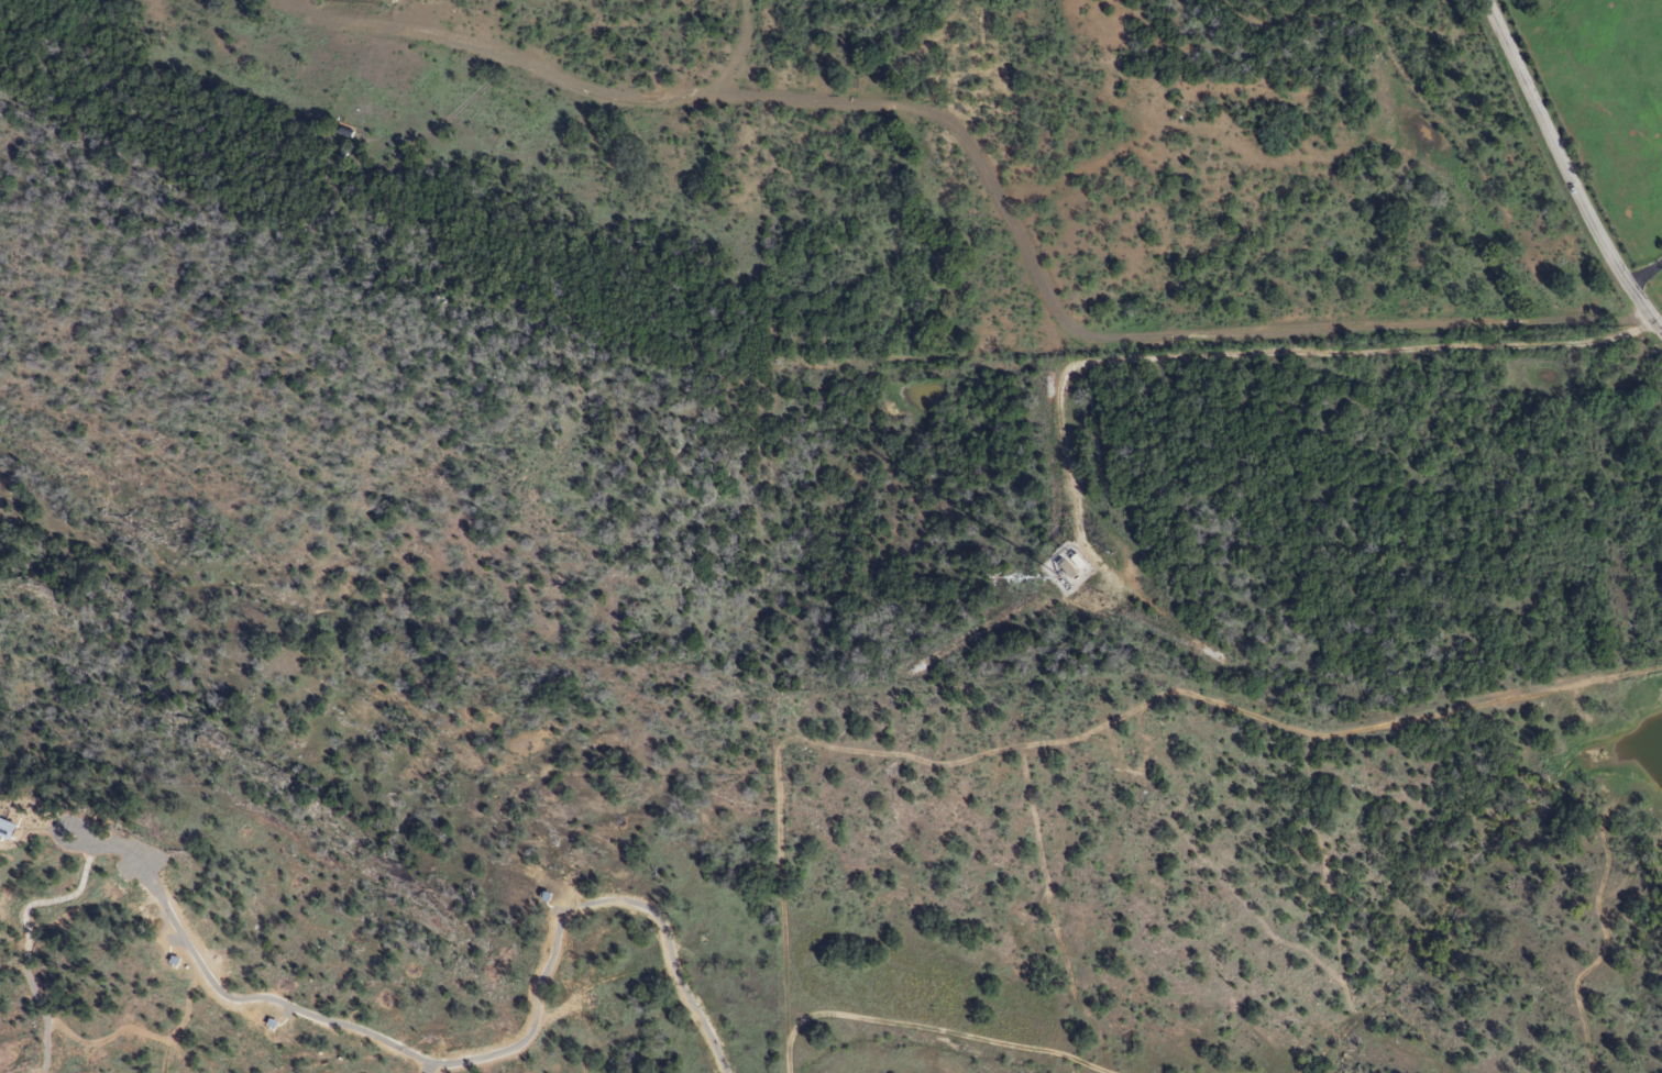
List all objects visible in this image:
road: (541, 71)
road: (1565, 169)
road: (1644, 269)
road: (1272, 347)
building: (1074, 562)

